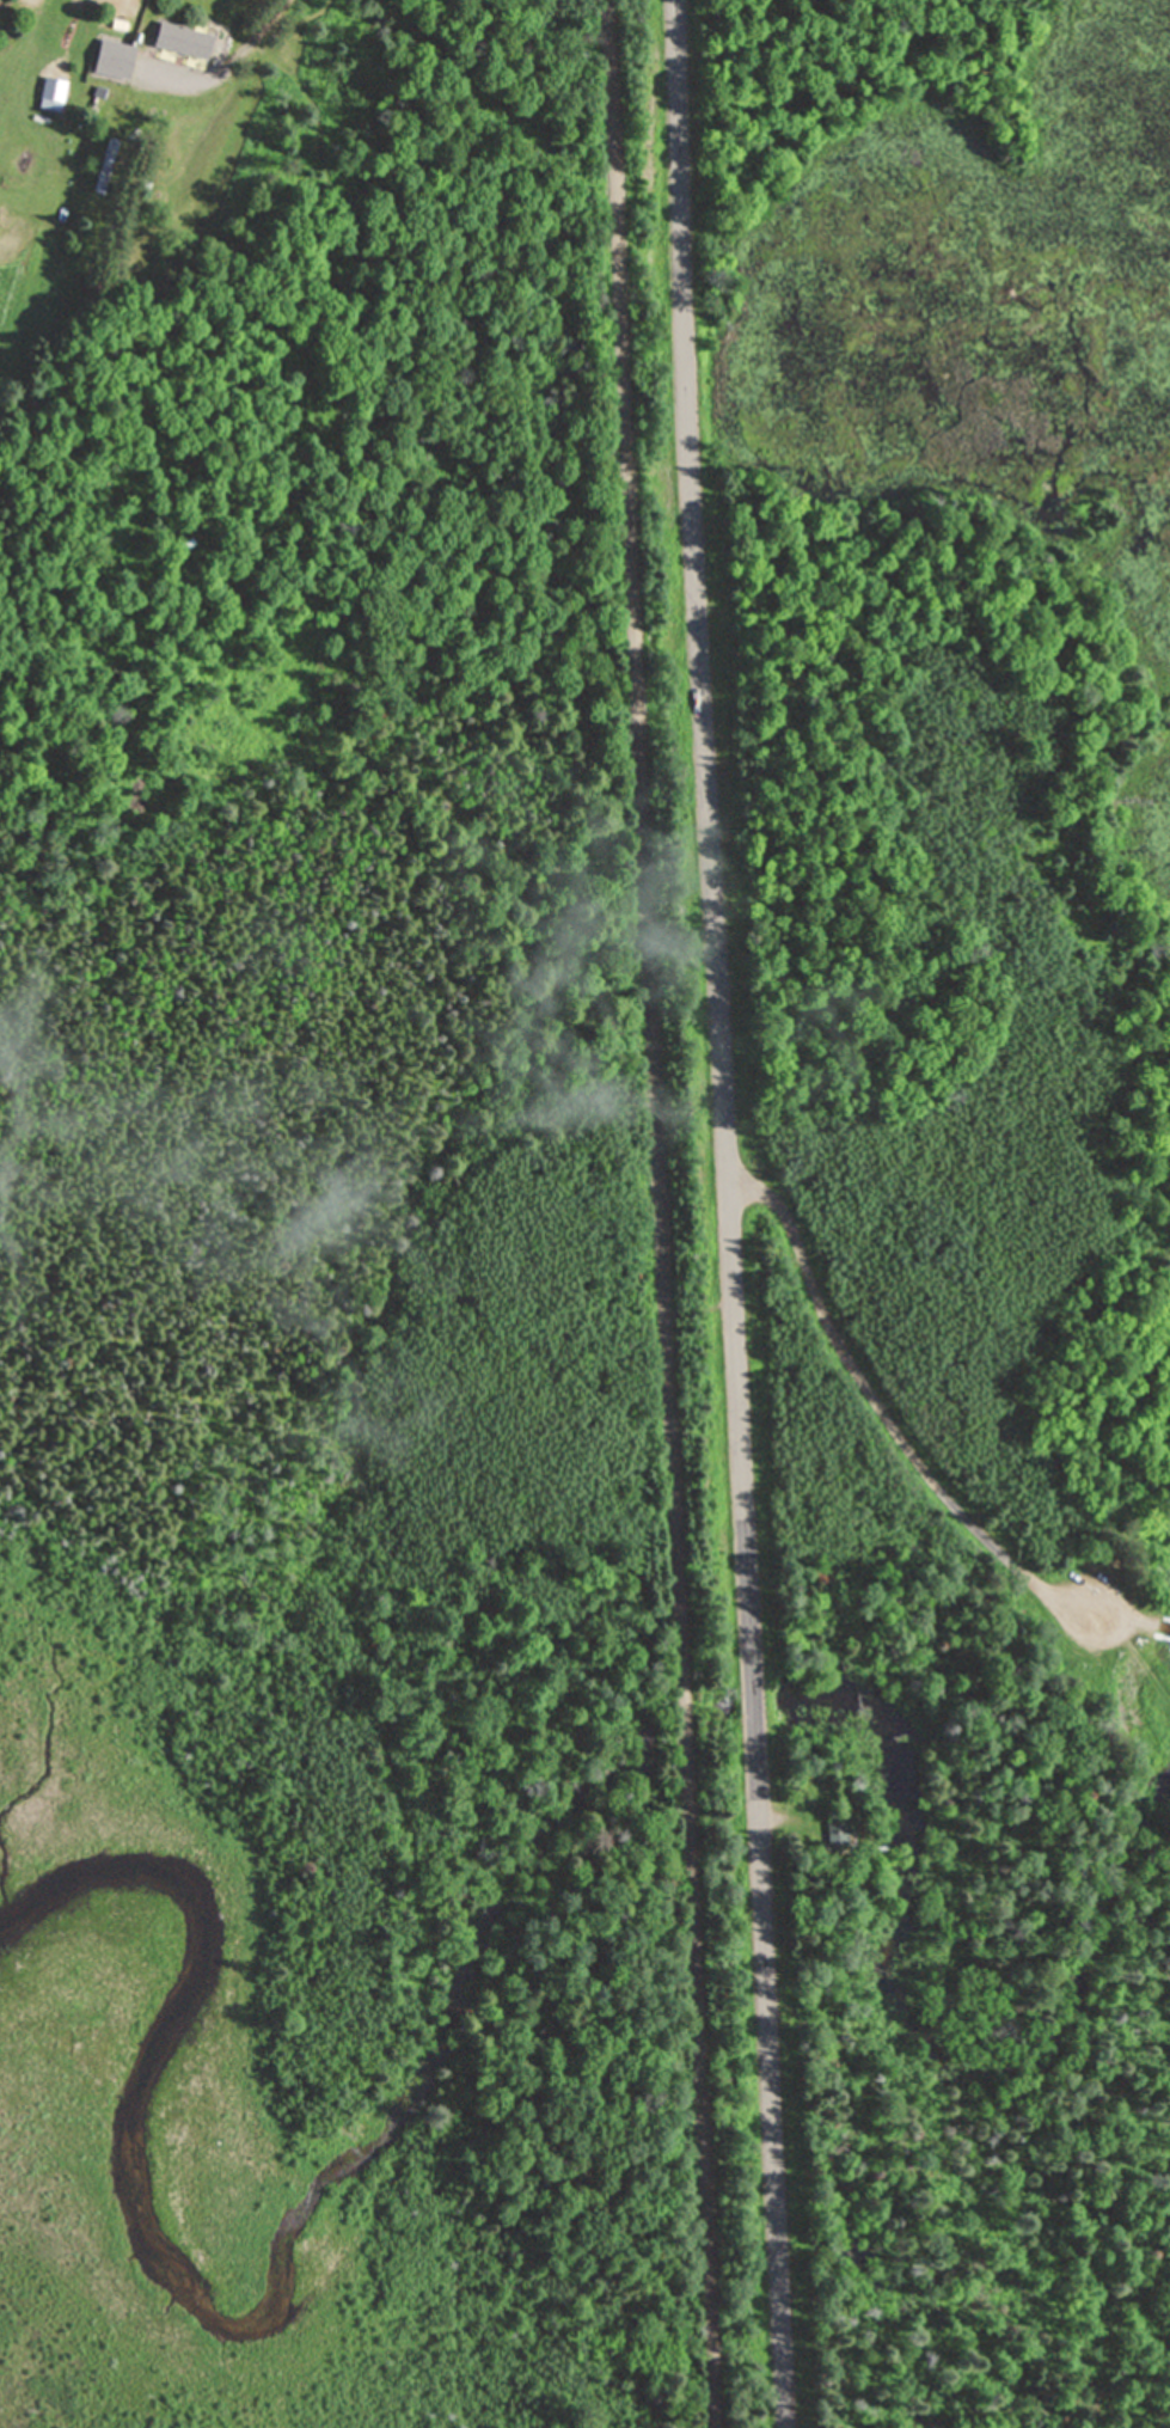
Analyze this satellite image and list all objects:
road: (247, 36)
building: (183, 38)
building: (115, 57)
building: (105, 164)
road: (655, 1213)
road: (725, 1213)
road: (883, 1412)
dam: (1156, 1669)
river: (719, 1694)
building: (835, 1831)
river: (906, 2012)
river: (305, 2228)

